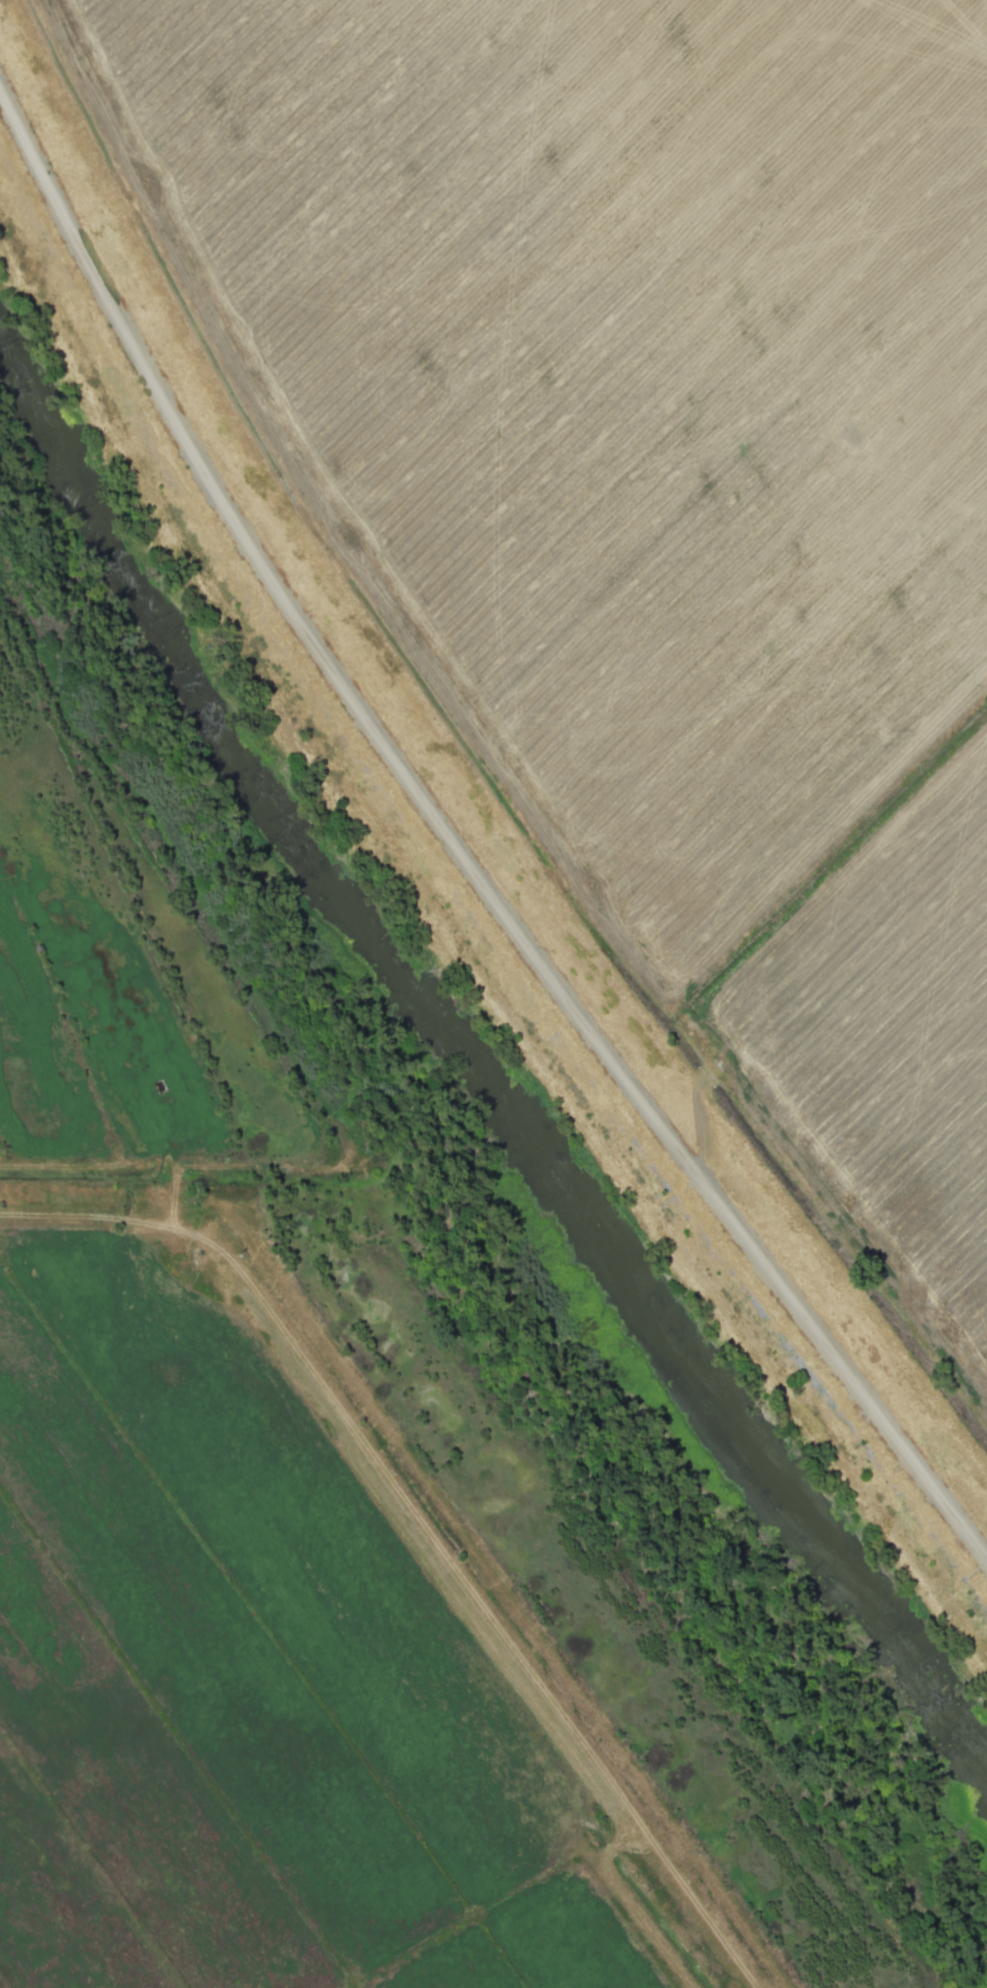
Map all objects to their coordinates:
crop: (632, 516)
crop: (352, 1476)

